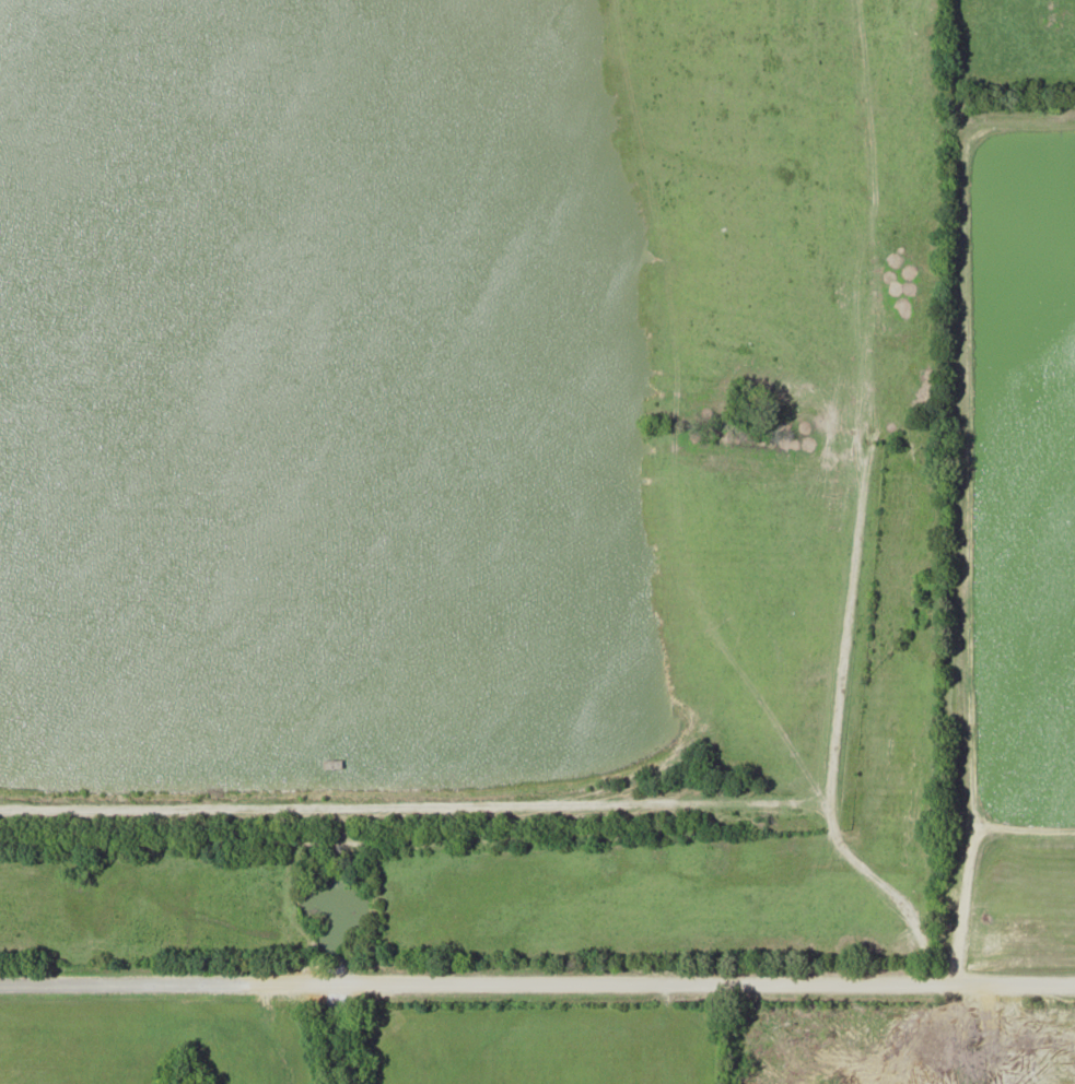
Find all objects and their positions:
road: (537, 979)

